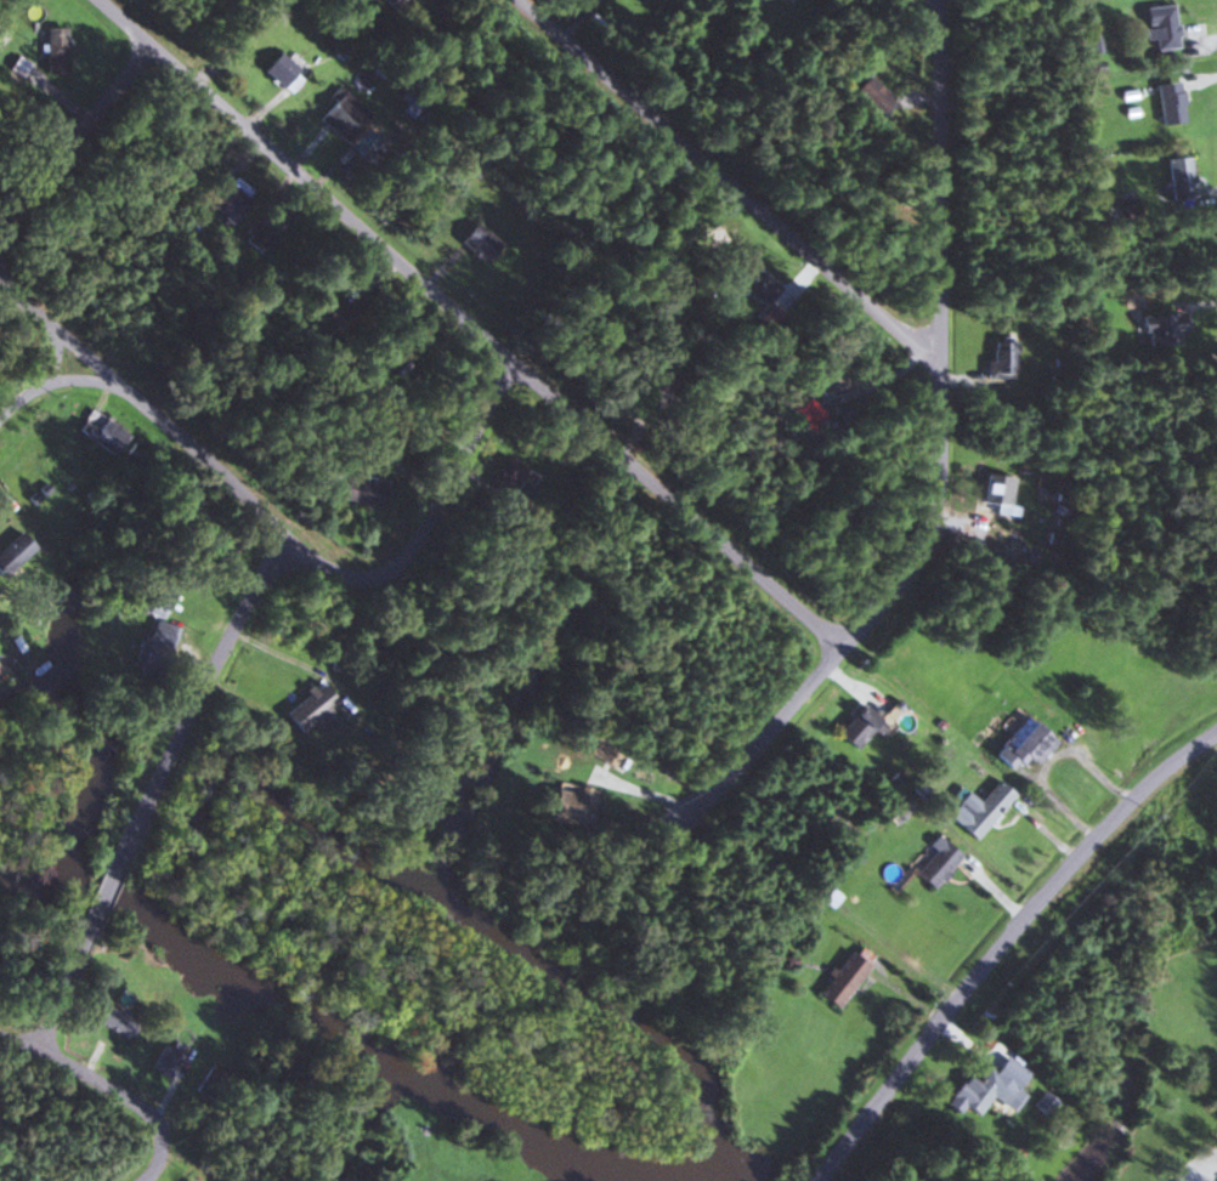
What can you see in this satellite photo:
building: (391, 2)
building: (1159, 25)
building: (53, 50)
building: (281, 70)
building: (868, 93)
building: (1168, 102)
building: (343, 115)
road: (75, 130)
building: (1178, 176)
road: (729, 181)
building: (232, 200)
building: (257, 234)
building: (477, 242)
building: (753, 282)
building: (335, 317)
road: (470, 328)
building: (1159, 329)
building: (1001, 359)
road: (39, 382)
building: (806, 411)
building: (100, 433)
road: (941, 455)
building: (504, 476)
building: (361, 492)
building: (996, 492)
building: (521, 493)
road: (272, 517)
building: (12, 551)
building: (152, 637)
building: (307, 708)
building: (856, 726)
building: (1020, 744)
road: (155, 785)
building: (566, 807)
building: (978, 808)
building: (934, 863)
road: (1002, 943)
building: (844, 976)
building: (748, 995)
building: (117, 1022)
building: (166, 1058)
building: (210, 1080)
road: (107, 1084)
building: (978, 1092)
road: (1207, 1174)

